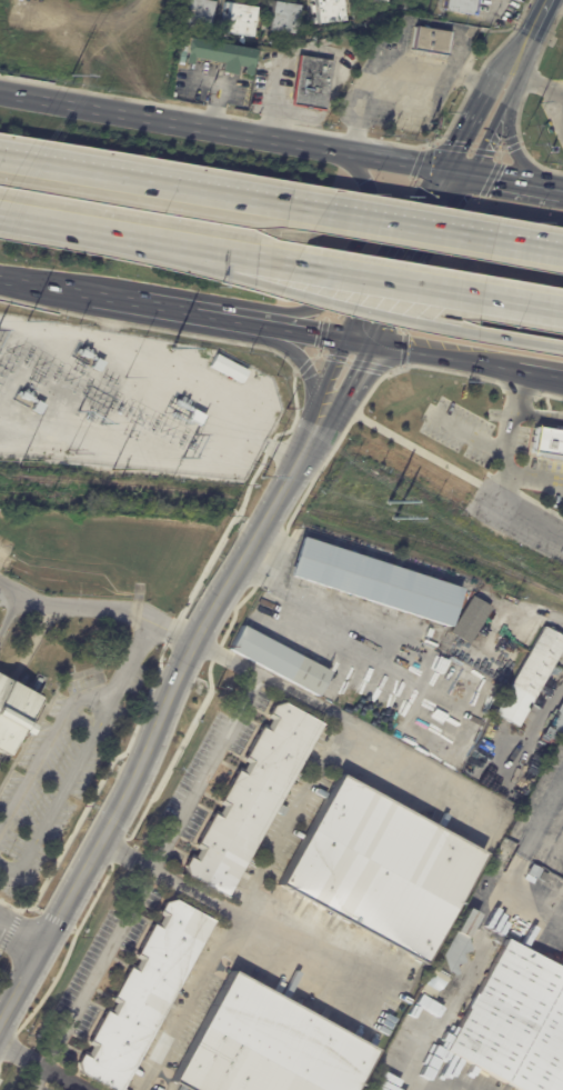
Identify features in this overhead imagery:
building: (379, 0)
road: (561, 0)
building: (460, 7)
building: (329, 11)
building: (197, 14)
building: (283, 18)
road: (536, 18)
building: (239, 20)
building: (429, 41)
road: (521, 49)
building: (219, 56)
road: (279, 71)
road: (402, 78)
building: (312, 83)
road: (545, 86)
road: (222, 97)
road: (559, 107)
road: (484, 119)
road: (228, 134)
road: (511, 139)
traffic signals: (456, 177)
road: (510, 184)
road: (158, 188)
road: (87, 232)
road: (439, 234)
road: (231, 256)
road: (409, 260)
road: (350, 266)
road: (227, 270)
road: (425, 287)
road: (57, 291)
road: (184, 312)
road: (421, 324)
road: (309, 334)
traffic signals: (362, 344)
road: (440, 358)
building: (98, 364)
road: (305, 366)
building: (229, 368)
road: (541, 376)
building: (142, 386)
road: (339, 387)
power substation: (128, 402)
building: (38, 407)
road: (536, 414)
road: (468, 432)
road: (507, 436)
building: (547, 442)
power tower: (71, 451)
road: (533, 476)
railway: (38, 481)
railway: (288, 506)
road: (530, 519)
road: (261, 538)
road: (369, 553)
building: (376, 581)
road: (510, 602)
road: (61, 603)
building: (471, 620)
road: (164, 629)
building: (431, 632)
road: (372, 639)
building: (278, 662)
building: (531, 677)
building: (13, 713)
road: (67, 714)
road: (540, 721)
building: (555, 726)
road: (413, 763)
road: (74, 764)
building: (252, 803)
road: (541, 814)
road: (289, 820)
road: (102, 833)
road: (21, 862)
building: (380, 869)
road: (143, 882)
road: (532, 911)
road: (20, 936)
road: (300, 951)
building: (450, 958)
road: (464, 972)
building: (149, 997)
road: (189, 1003)
building: (516, 1023)
building: (268, 1047)
road: (41, 1067)

